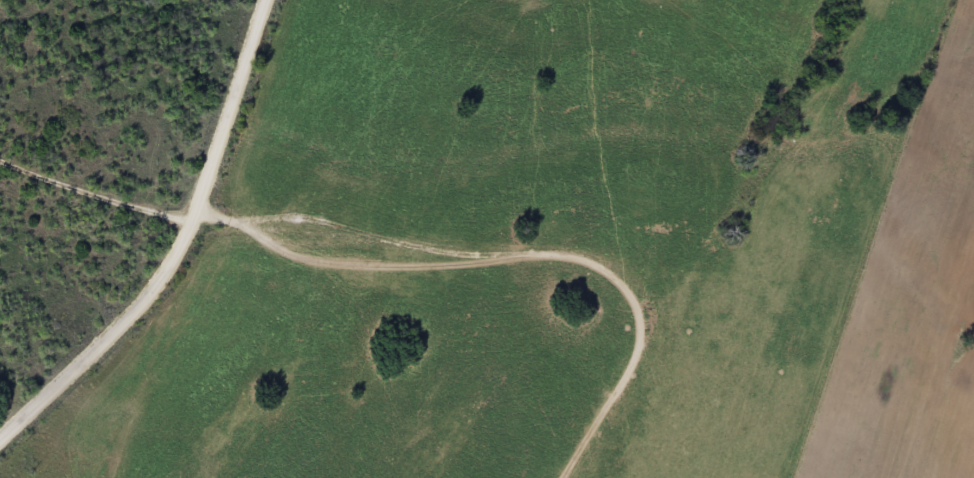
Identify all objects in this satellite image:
road: (97, 190)
road: (181, 252)

